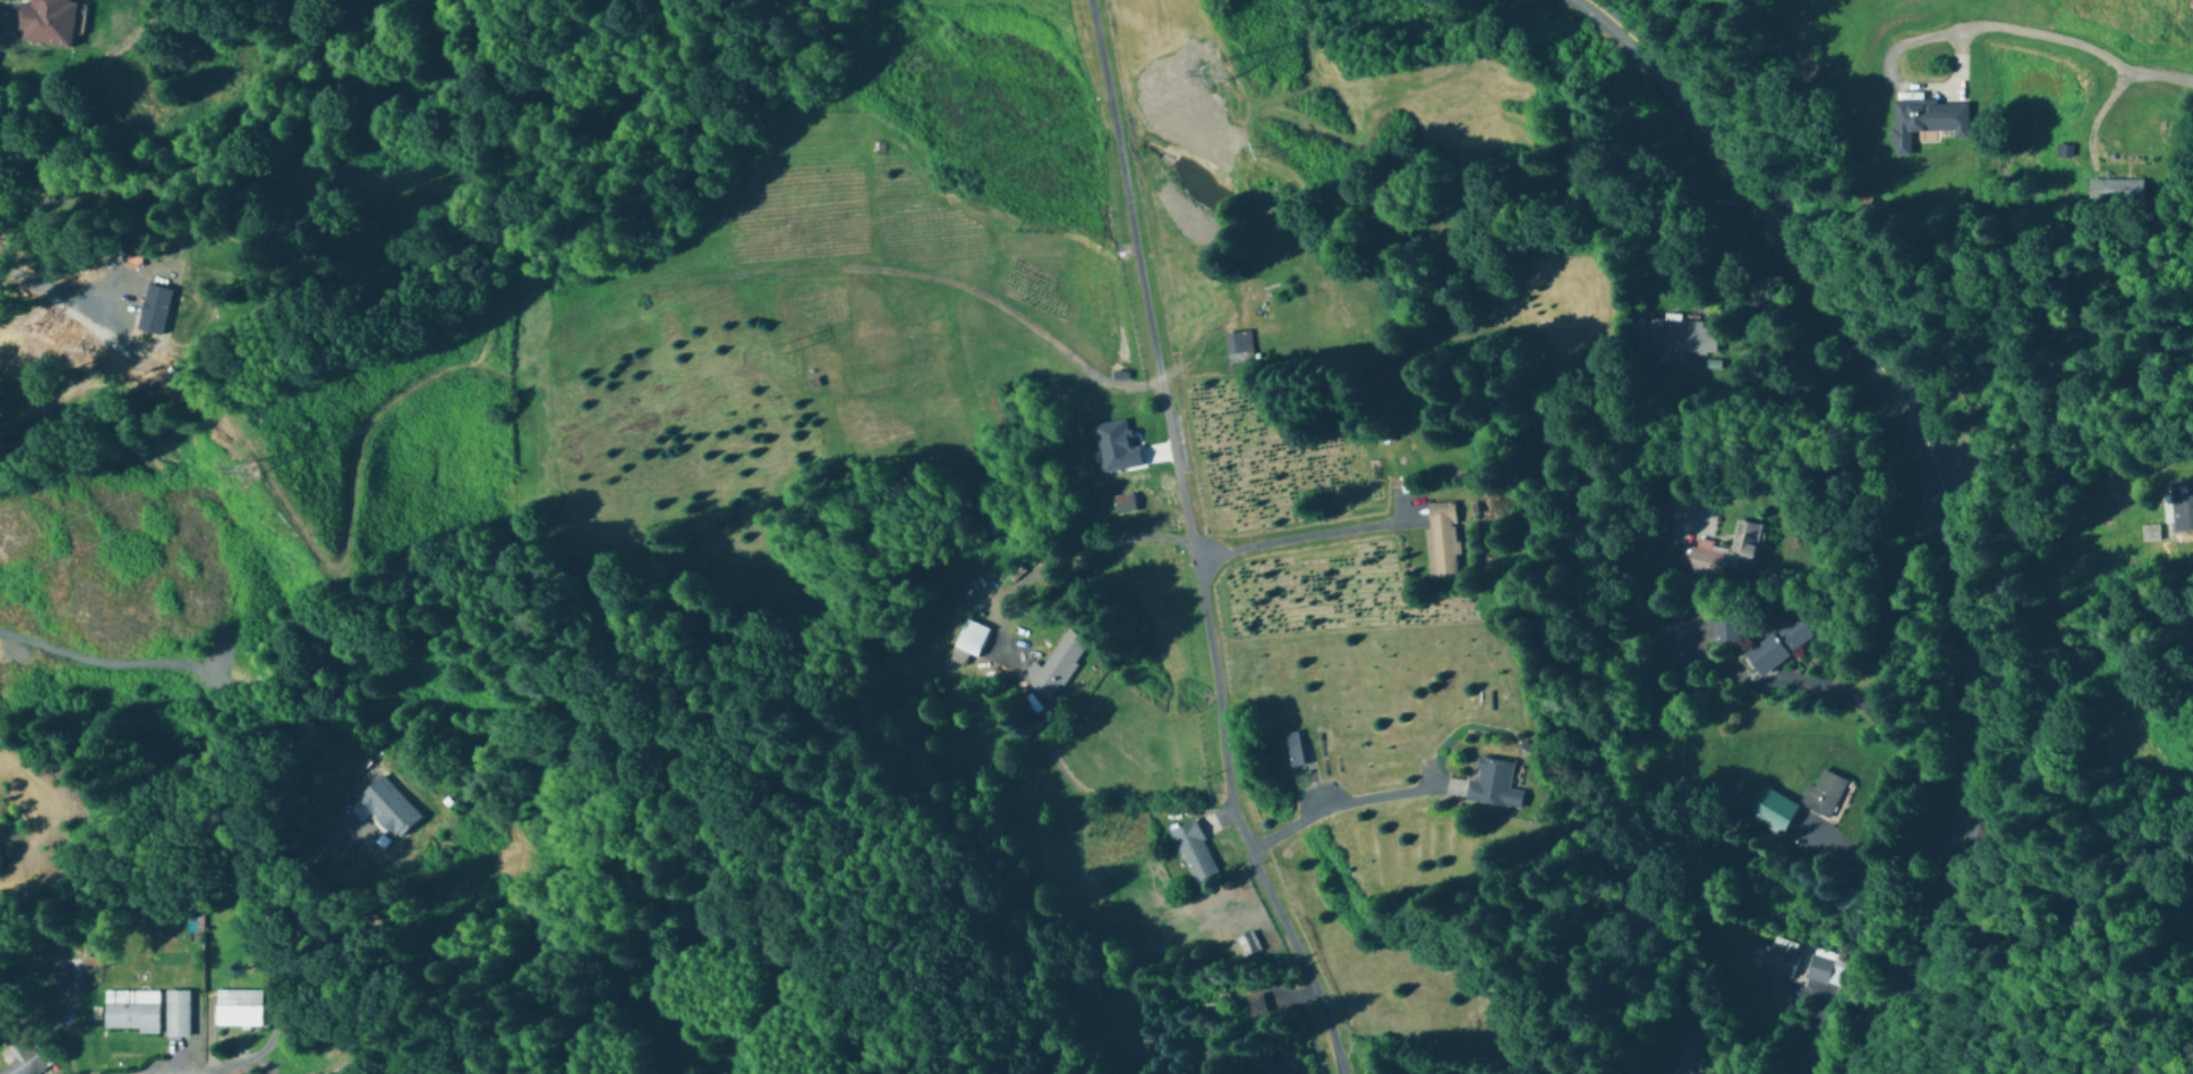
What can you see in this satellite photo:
building: (2190, 4)
building: (46, 23)
power tower: (1225, 67)
building: (1925, 121)
building: (2114, 190)
road: (43, 280)
building: (1676, 337)
building: (1238, 347)
road: (1771, 389)
power tower: (250, 479)
road: (1912, 483)
building: (1122, 504)
building: (2181, 506)
road: (1296, 535)
building: (1441, 540)
road: (1193, 544)
building: (1743, 547)
road: (1062, 548)
building: (964, 641)
building: (1778, 645)
building: (1056, 665)
road: (1870, 720)
building: (1293, 749)
building: (1492, 784)
building: (1824, 793)
road: (1336, 806)
building: (1771, 810)
building: (390, 844)
building: (1193, 850)
building: (1844, 898)
building: (1248, 944)
building: (1772, 960)
building: (1820, 969)
building: (1255, 1009)
building: (239, 1010)
building: (131, 1012)
building: (178, 1014)
road: (1797, 1038)
building: (1682, 1053)
building: (21, 1057)
road: (232, 1063)
building: (1281, 1069)

